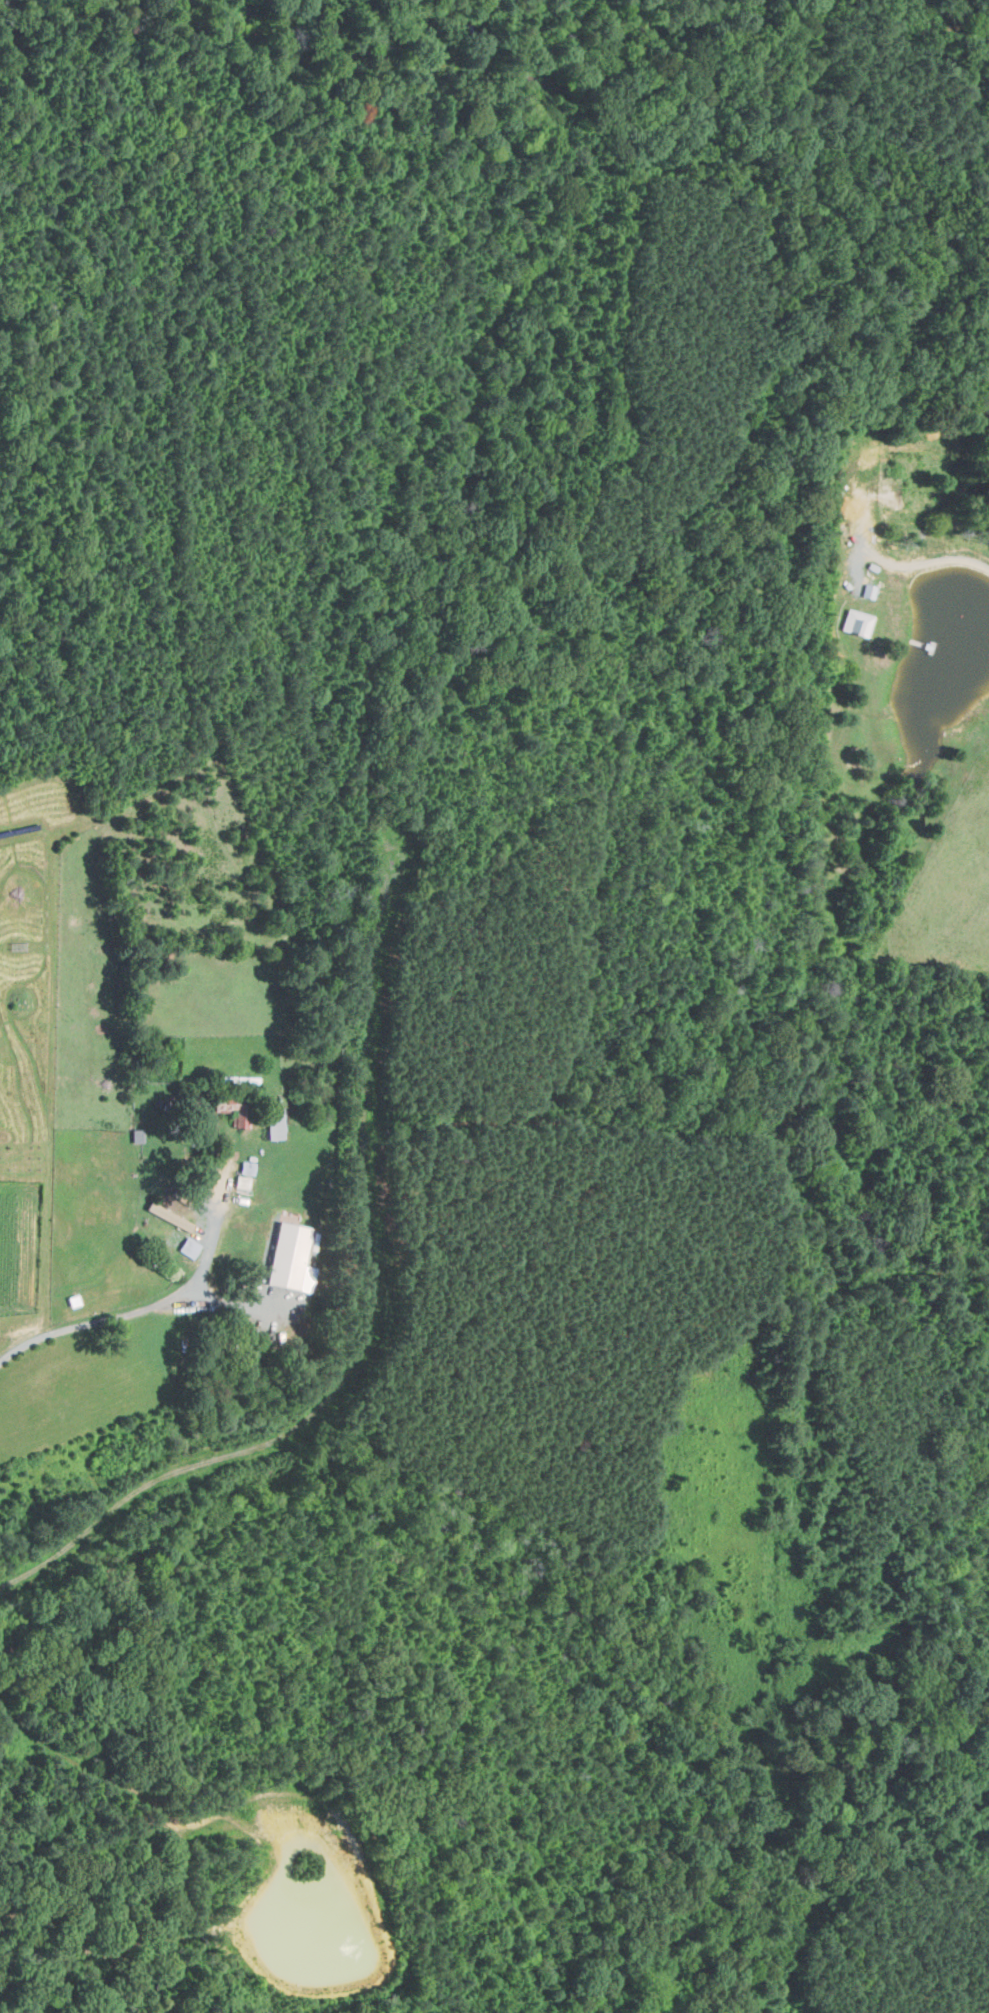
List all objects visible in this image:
road: (946, 559)
building: (855, 623)
building: (271, 1123)
building: (134, 1132)
building: (246, 1166)
building: (242, 1182)
building: (165, 1216)
building: (188, 1247)
building: (288, 1255)
building: (72, 1298)
road: (112, 1316)
road: (368, 1326)
road: (162, 1816)

